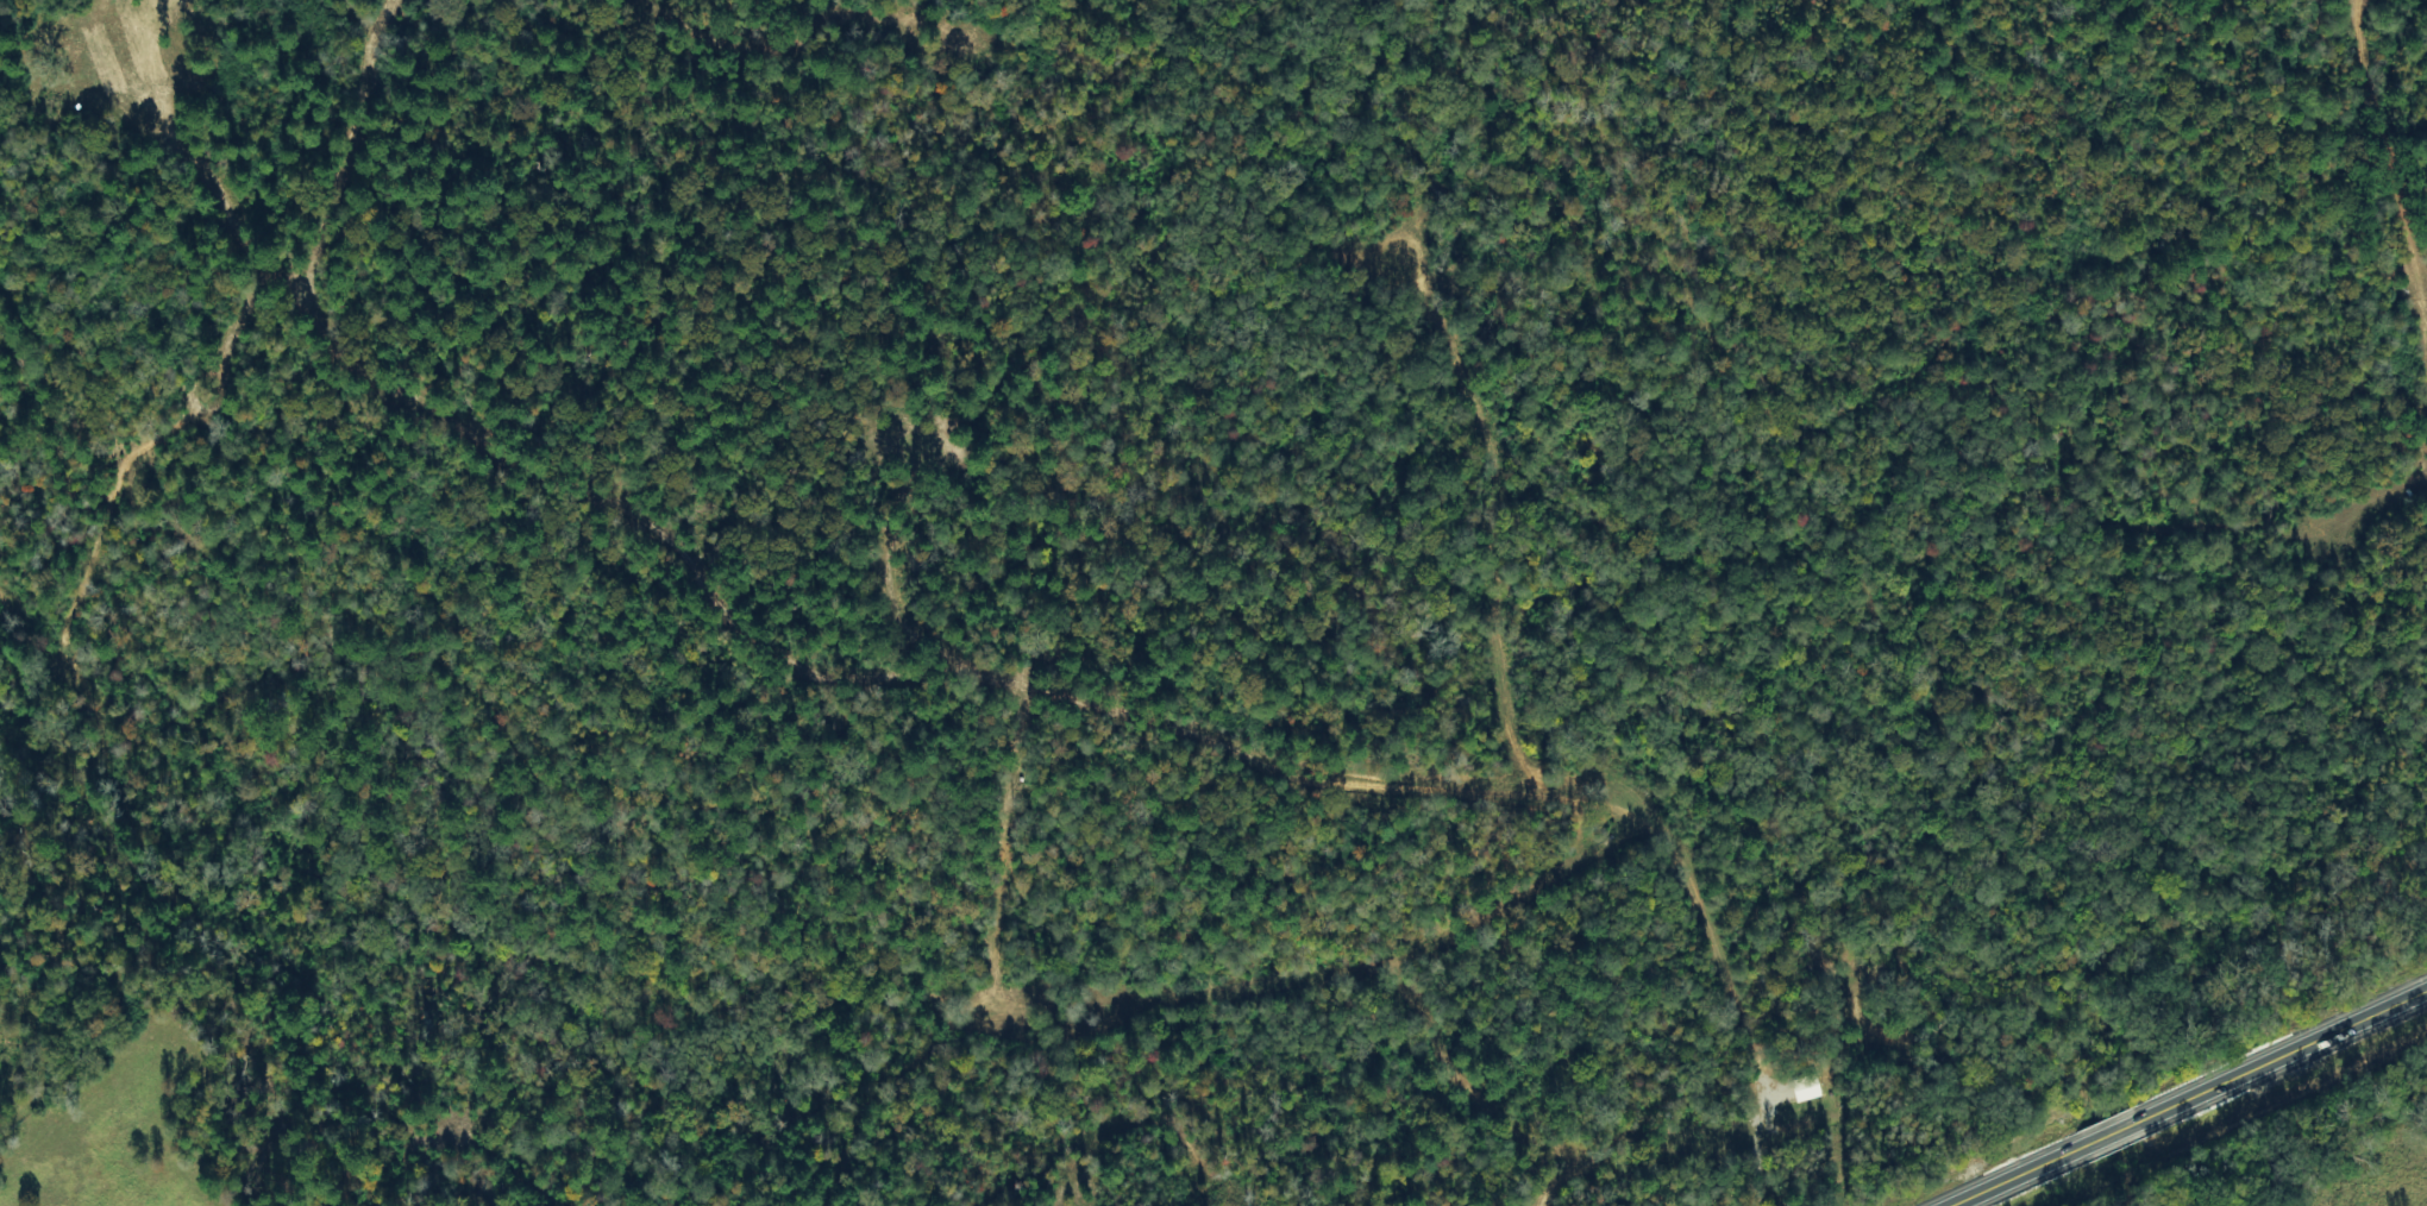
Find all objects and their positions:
road: (2187, 1097)

